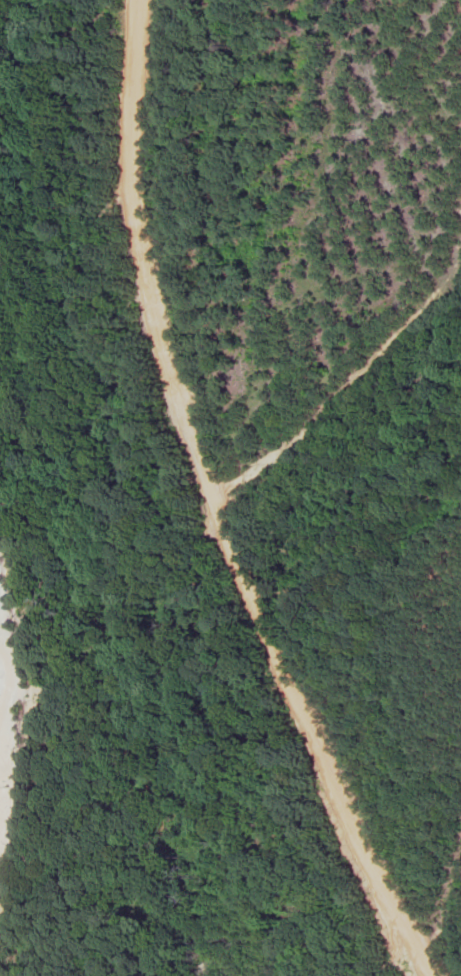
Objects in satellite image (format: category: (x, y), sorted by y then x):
road: (212, 506)

